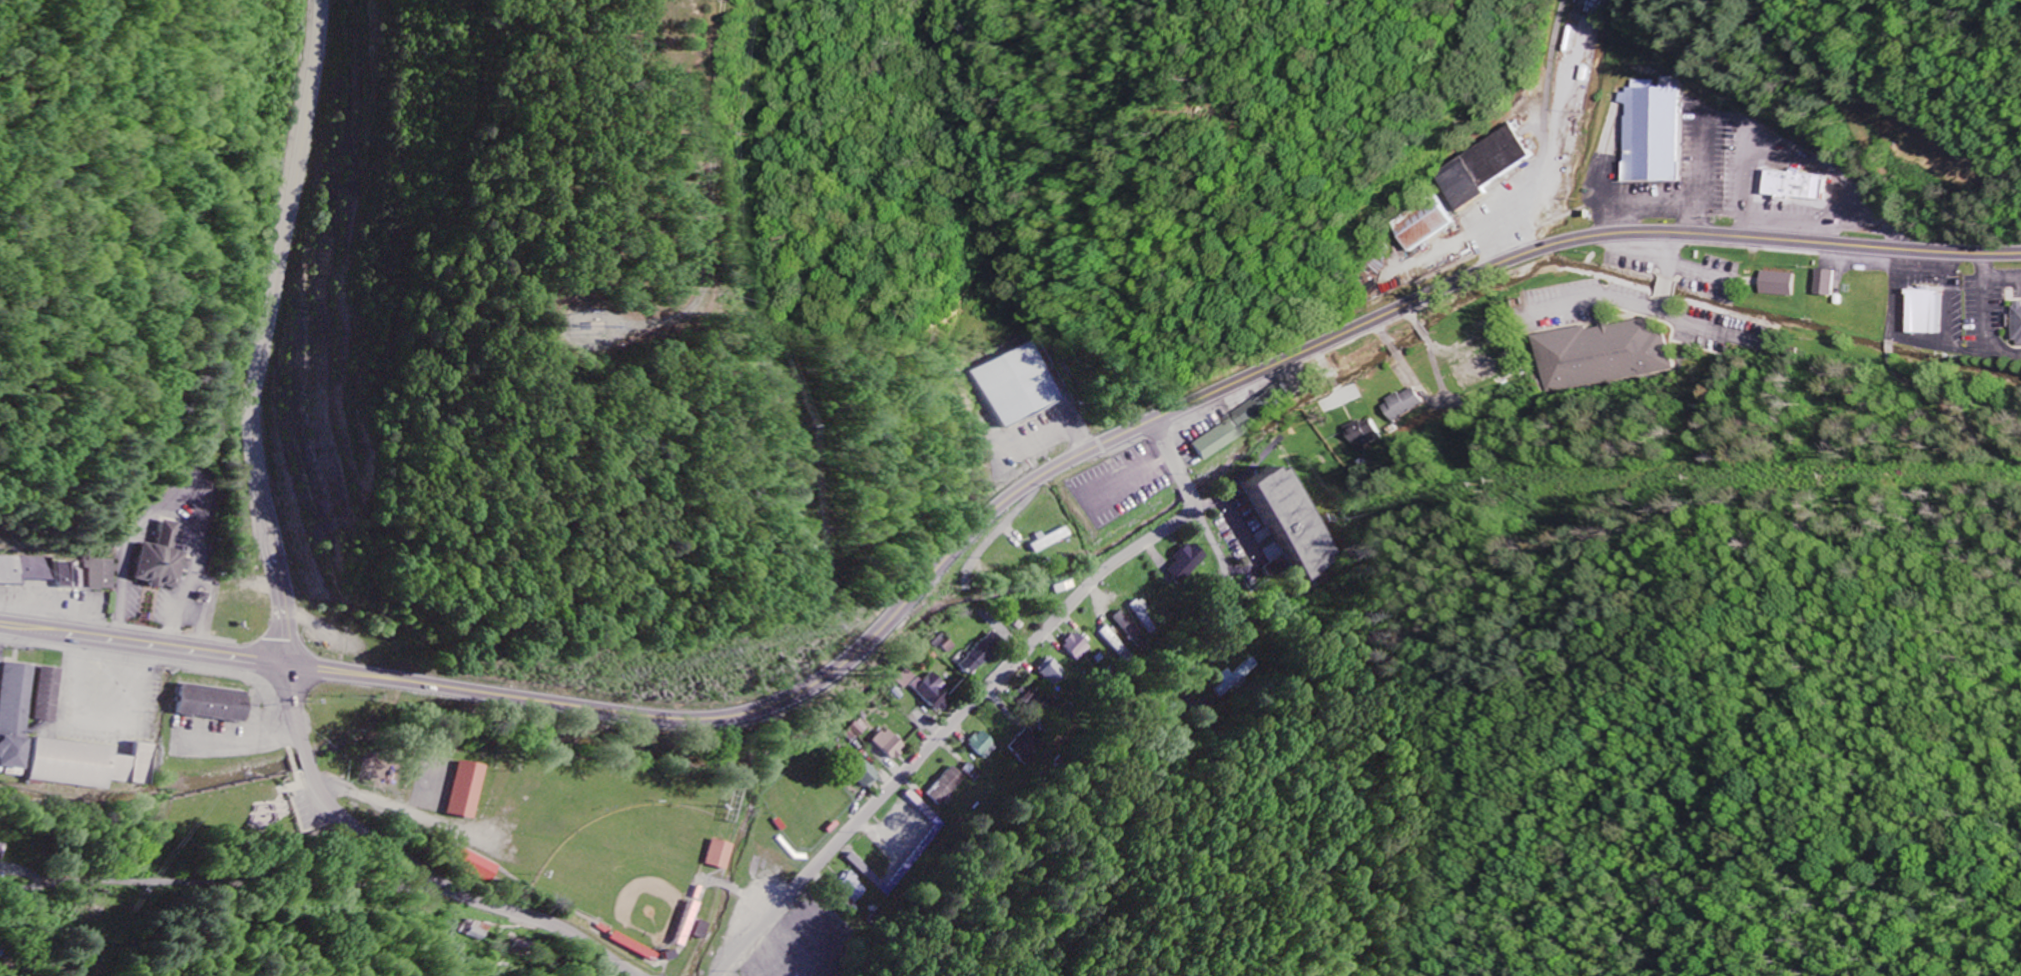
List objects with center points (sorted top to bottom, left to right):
road: (1877, 107)
road: (1539, 132)
building: (1654, 137)
building: (1800, 184)
road: (715, 194)
building: (1828, 284)
building: (1782, 285)
building: (1930, 313)
building: (2020, 319)
road: (271, 330)
building: (1601, 353)
building: (1014, 381)
building: (1405, 405)
building: (1268, 406)
building: (1365, 434)
building: (1220, 438)
road: (999, 506)
building: (1279, 515)
road: (1170, 525)
building: (1051, 539)
building: (1189, 563)
building: (164, 567)
building: (28, 569)
building: (70, 575)
building: (100, 576)
building: (81, 580)
parking lot: (51, 607)
building: (1144, 615)
building: (1130, 629)
building: (1115, 643)
building: (942, 644)
building: (1077, 647)
building: (979, 654)
building: (1052, 672)
building: (1236, 678)
building: (904, 679)
parking lot: (111, 687)
building: (44, 689)
building: (931, 692)
building: (215, 704)
building: (11, 710)
building: (859, 729)
road: (936, 738)
building: (891, 745)
building: (986, 745)
building: (1028, 747)
building: (84, 762)
building: (868, 775)
park: (433, 778)
building: (464, 786)
building: (949, 787)
road: (329, 800)
park: (561, 824)
building: (914, 829)
building: (716, 850)
building: (1, 859)
park: (629, 863)
road: (518, 875)
road: (224, 881)
building: (856, 888)
road: (544, 921)
road: (763, 929)
building: (533, 950)
building: (645, 952)

